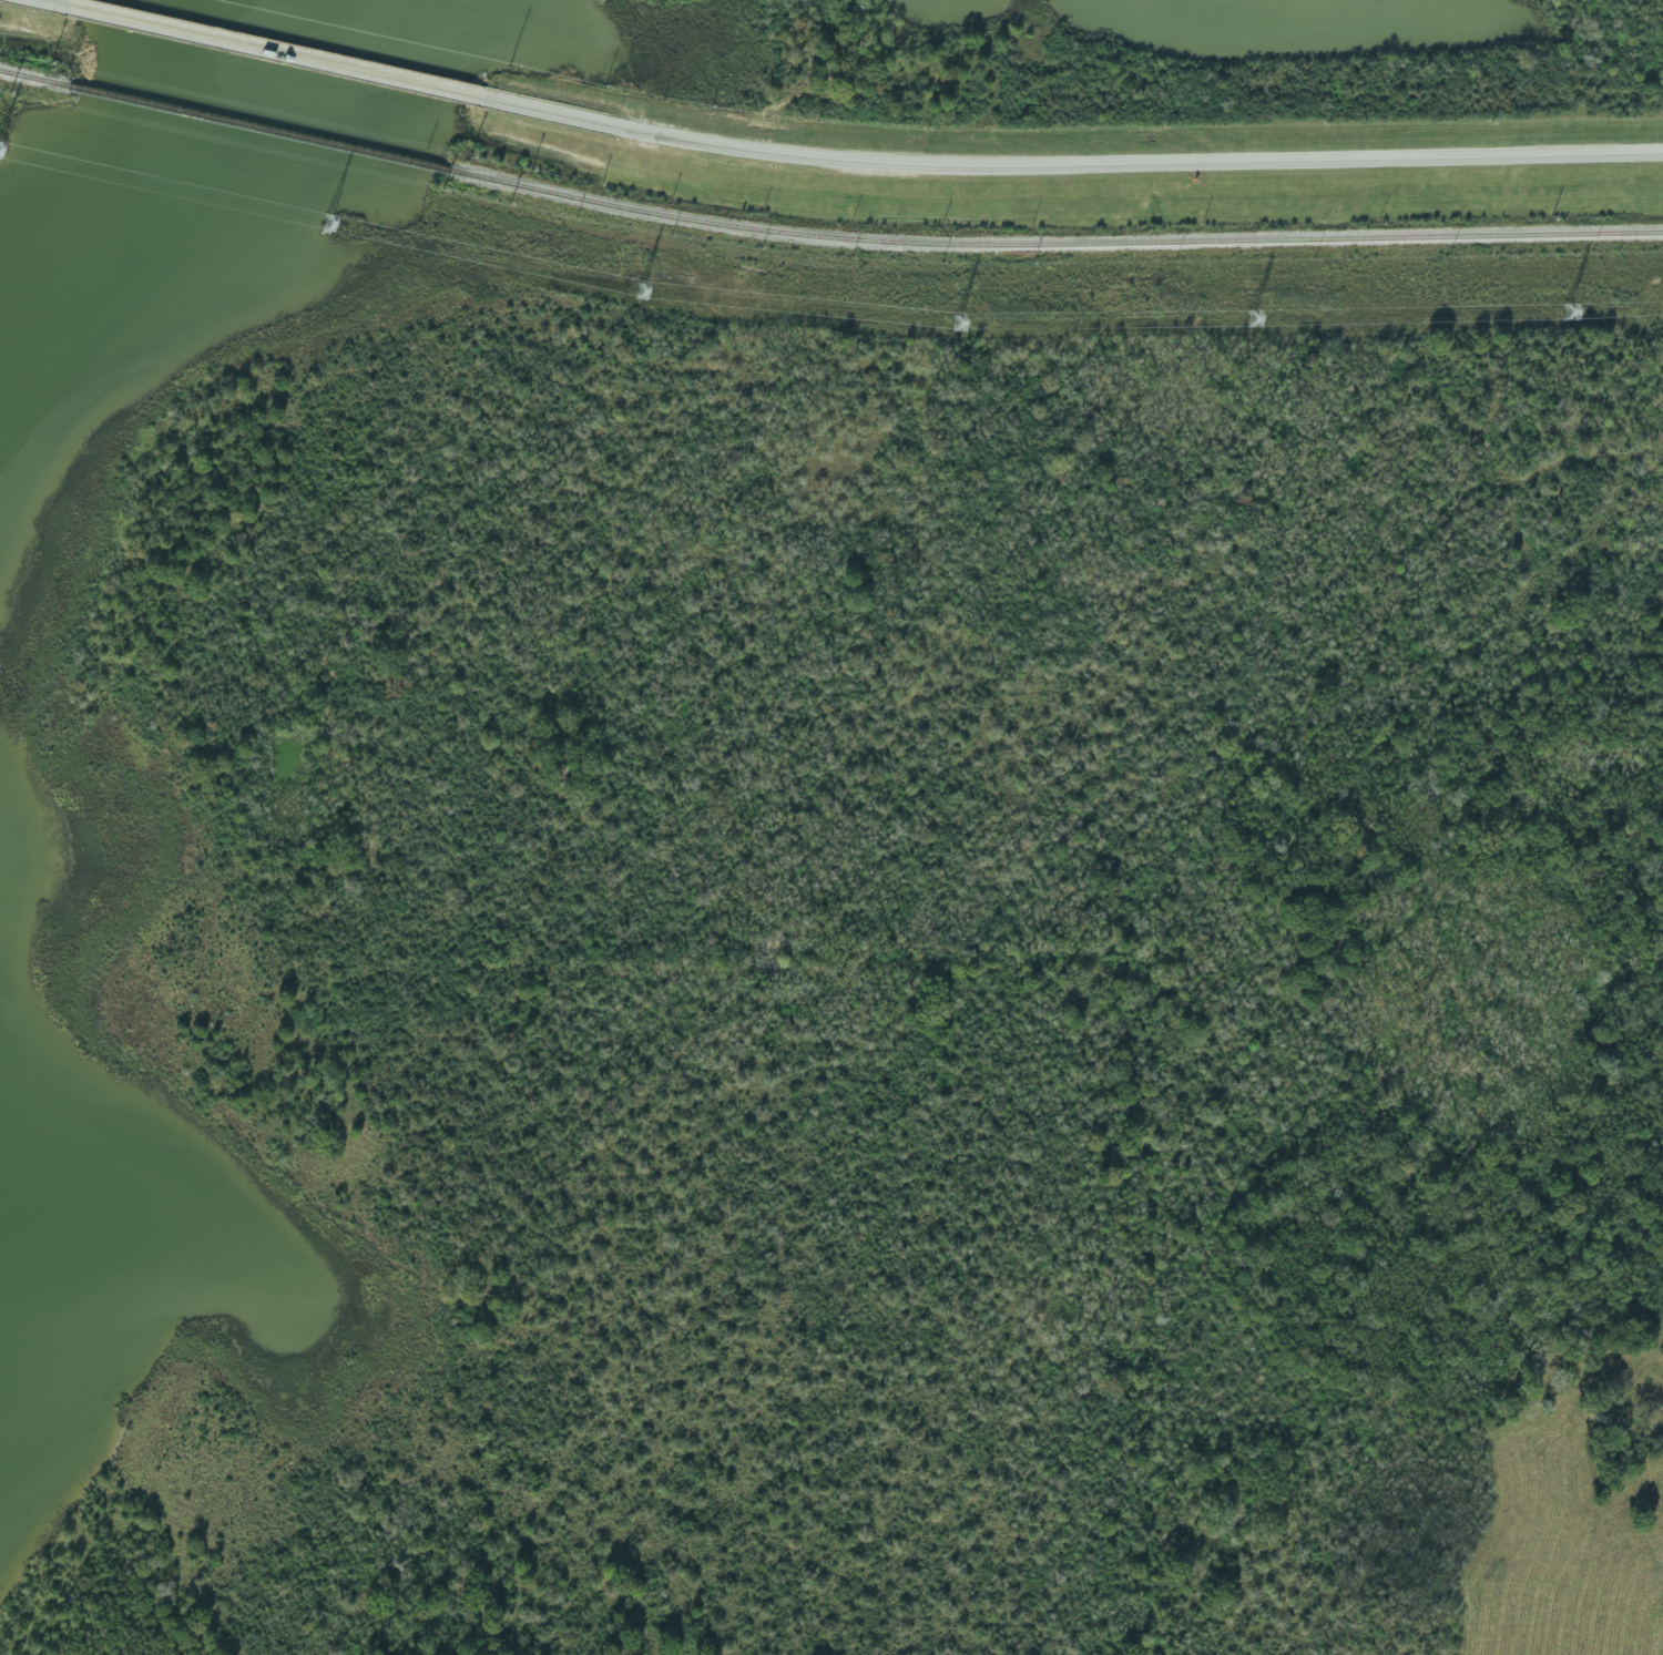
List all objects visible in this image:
road: (285, 52)
railway: (33, 78)
railway: (257, 127)
road: (1643, 151)
road: (1643, 152)
road: (1069, 166)
power tower: (327, 223)
railway: (1052, 243)
power tower: (640, 289)
power tower: (1568, 310)
power tower: (1251, 318)
power tower: (957, 324)

